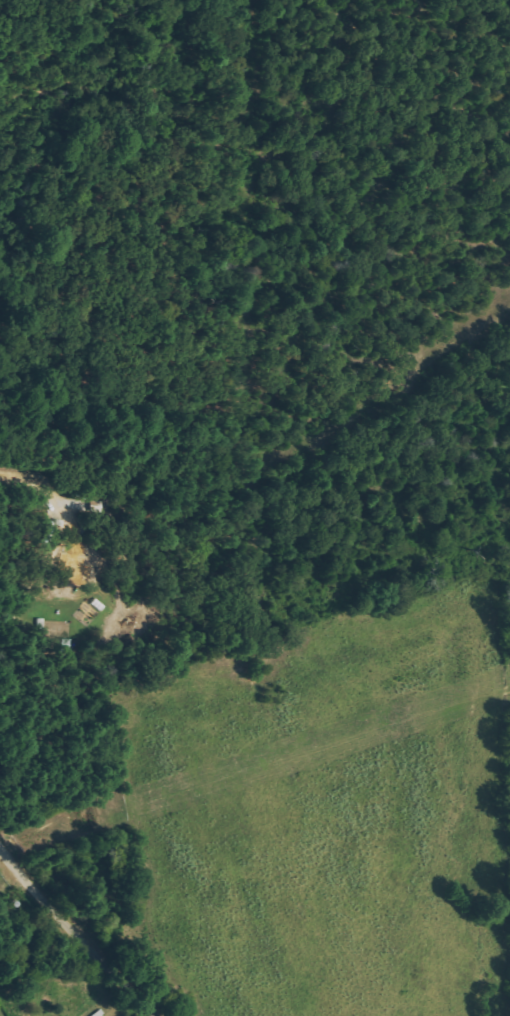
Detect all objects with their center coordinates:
road: (75, 928)

